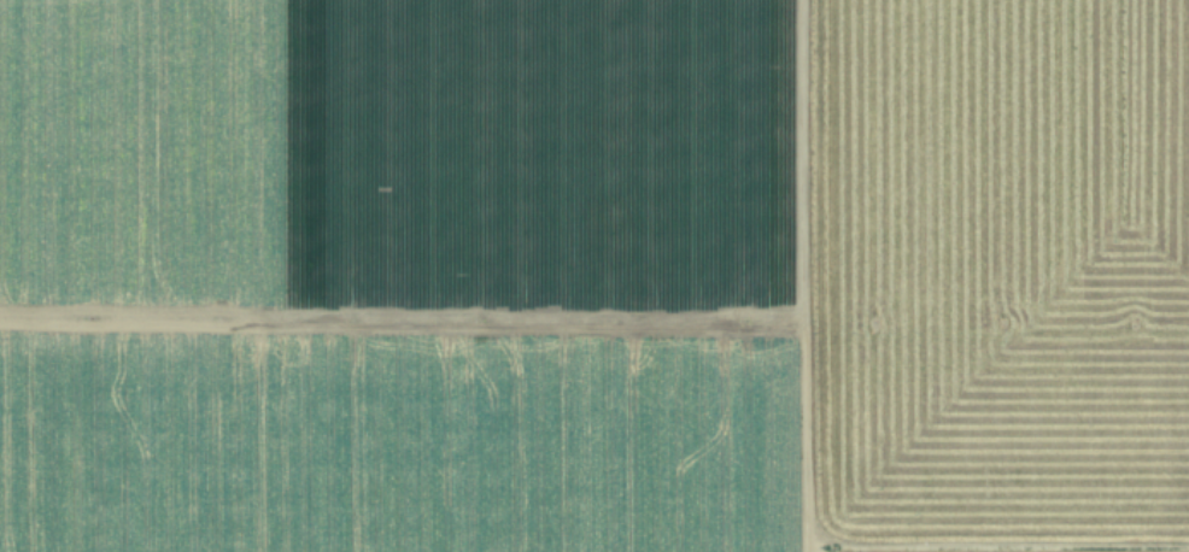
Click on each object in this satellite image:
crop: (594, 276)

